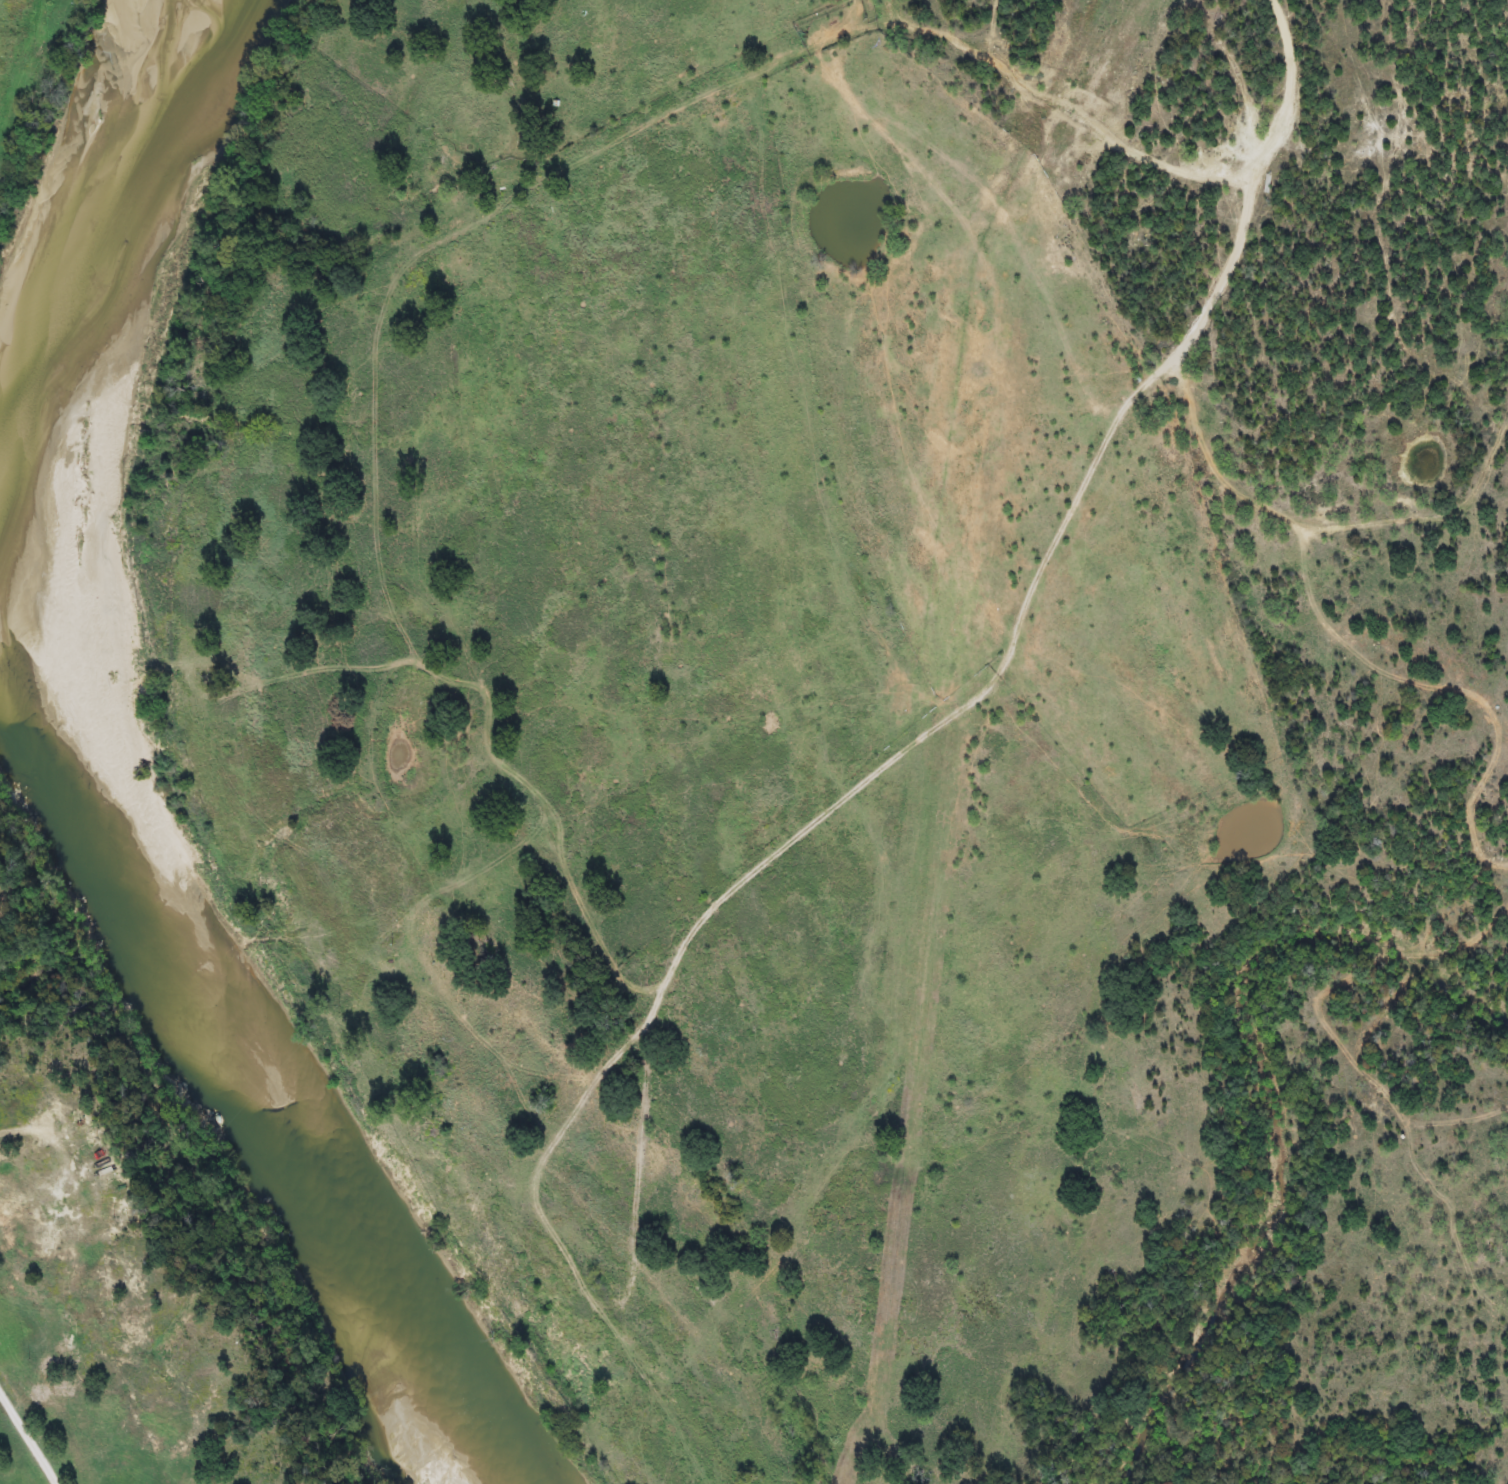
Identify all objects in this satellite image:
river: (85, 244)
river: (261, 1102)
building: (61, 1164)
road: (26, 1439)
river: (502, 1454)

